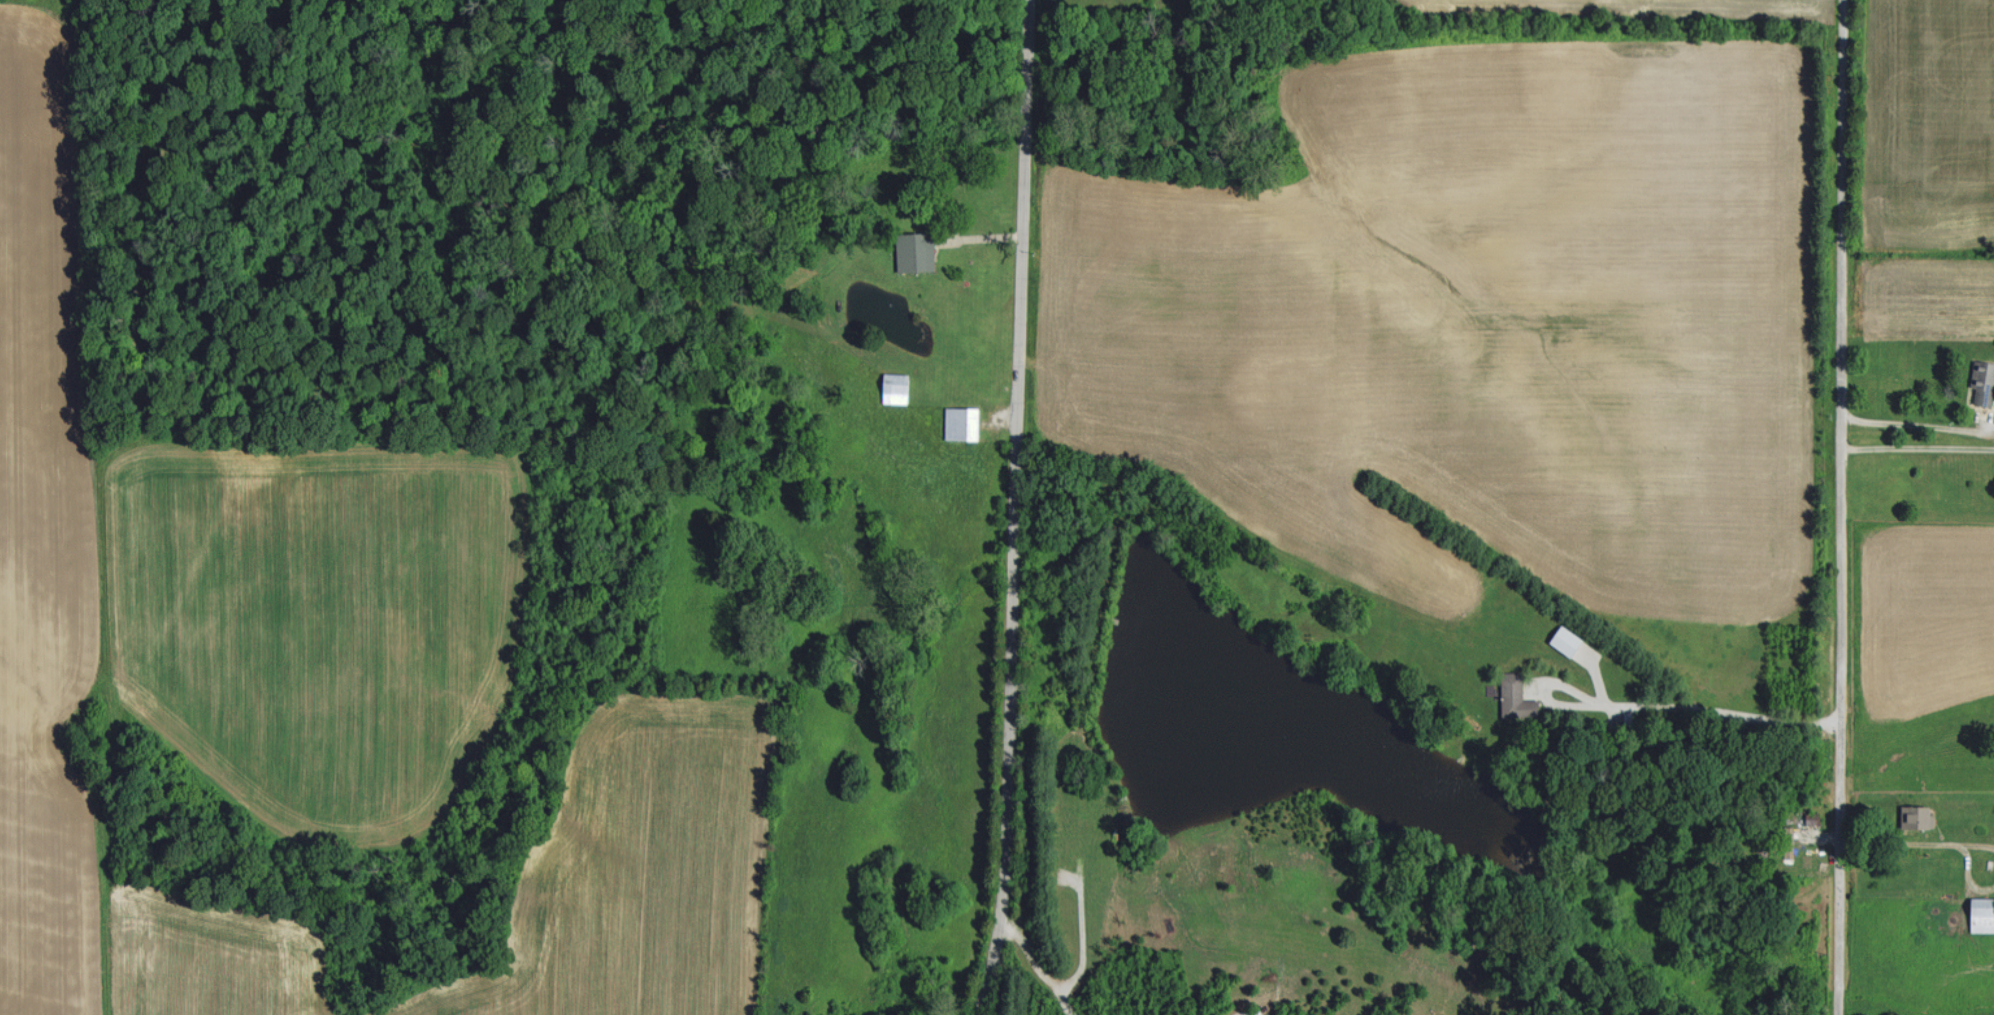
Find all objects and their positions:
building: (917, 251)
building: (1984, 382)
building: (899, 386)
road: (1918, 421)
building: (964, 423)
road: (1918, 443)
road: (1841, 507)
road: (1009, 508)
building: (1568, 640)
building: (1518, 697)
road: (1551, 706)
road: (1719, 712)
building: (1919, 815)
road: (1915, 842)
building: (1983, 913)

